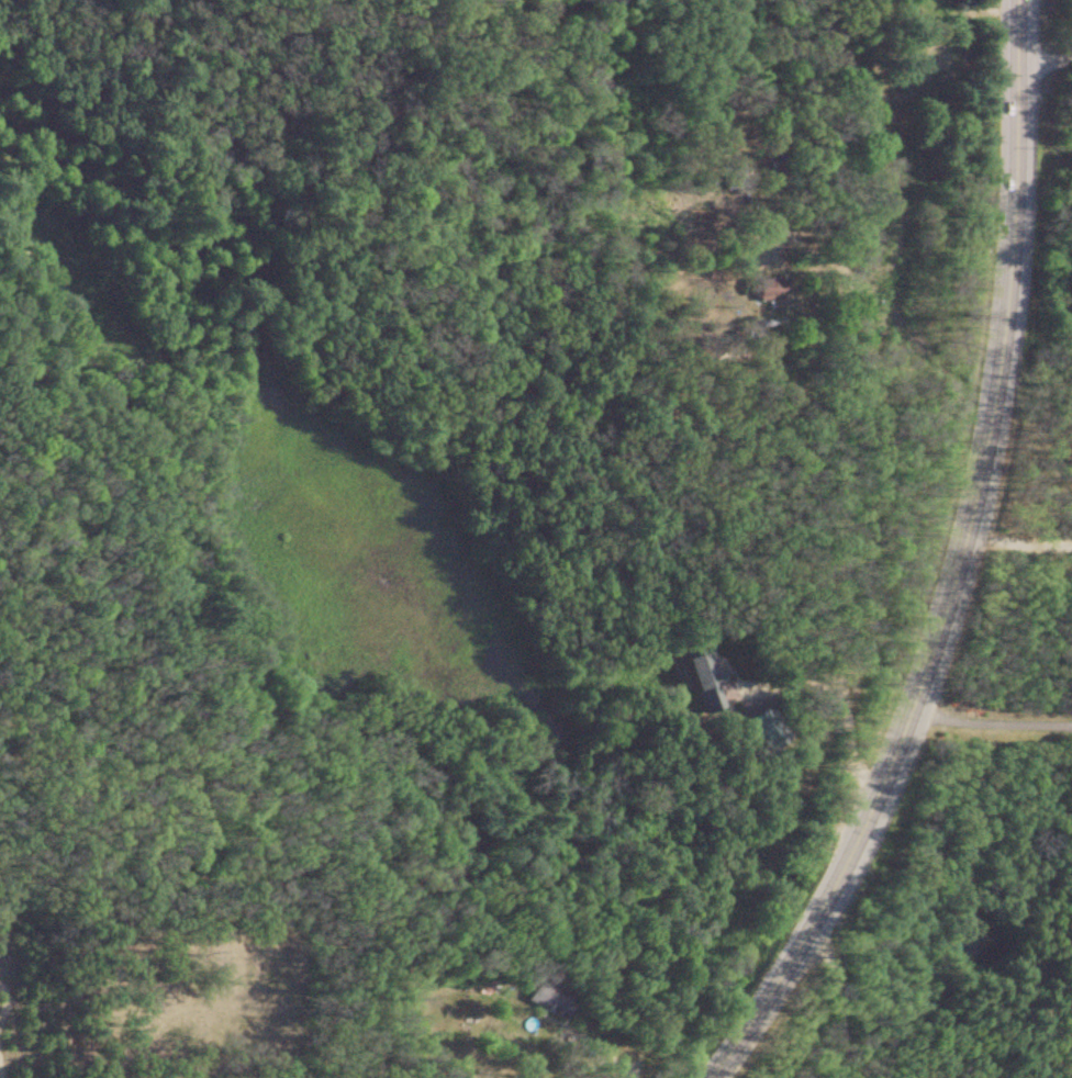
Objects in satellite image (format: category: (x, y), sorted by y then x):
road: (596, 14)
road: (1039, 55)
building: (907, 56)
building: (866, 143)
building: (729, 176)
building: (760, 290)
road: (1013, 536)
road: (943, 563)
building: (693, 677)
road: (839, 697)
road: (983, 717)
road: (829, 990)
building: (536, 1001)
road: (577, 1037)

